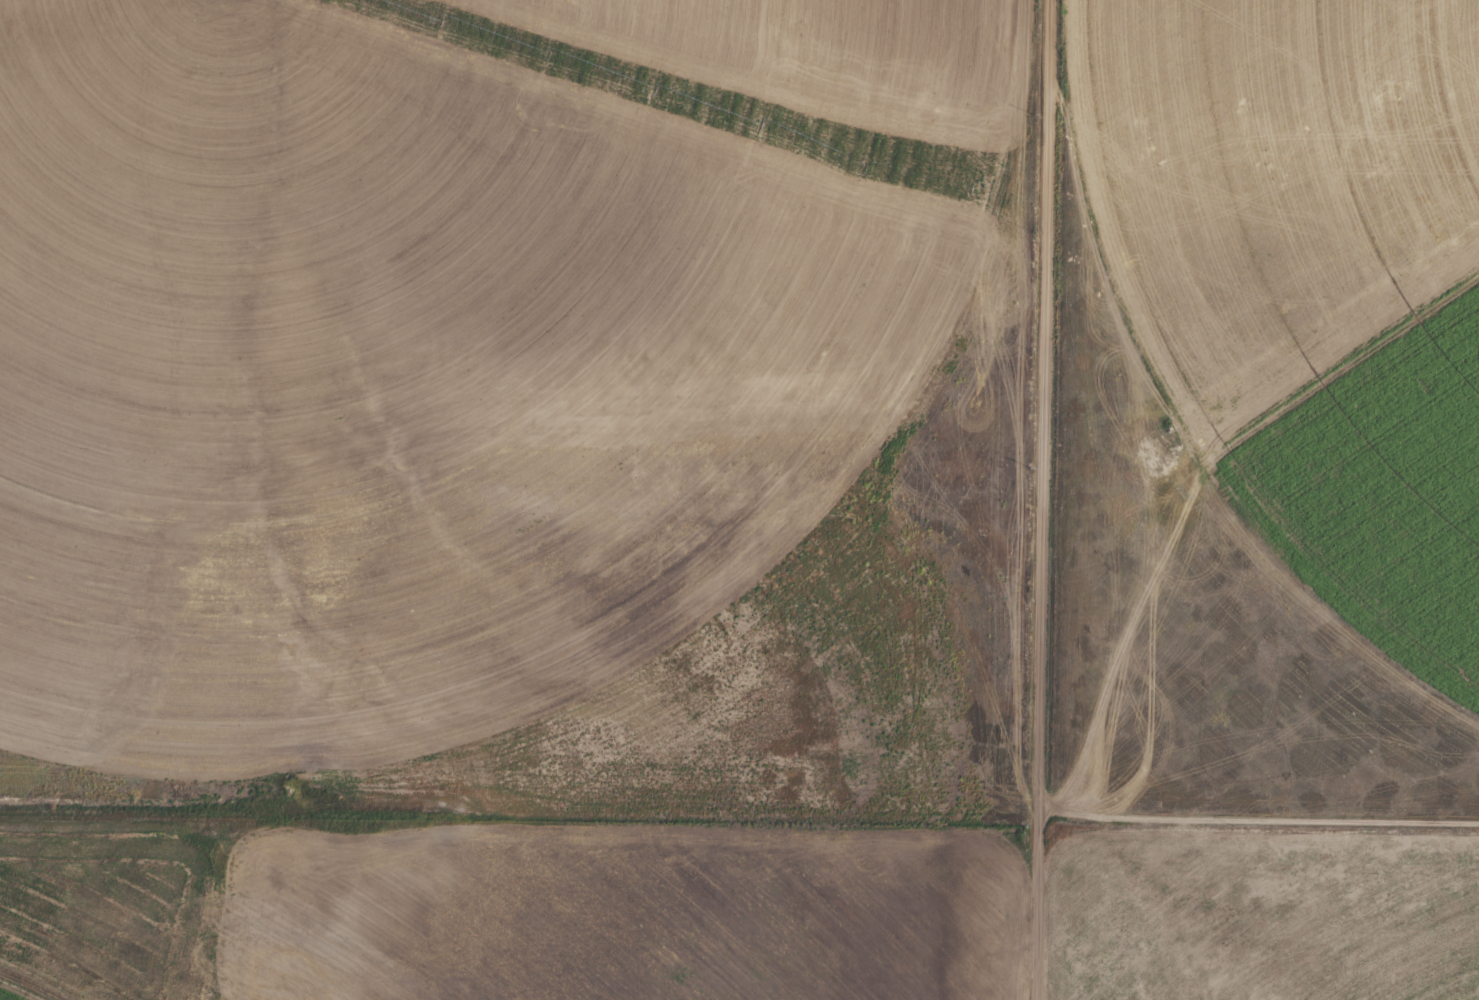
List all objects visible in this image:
road: (1041, 500)

